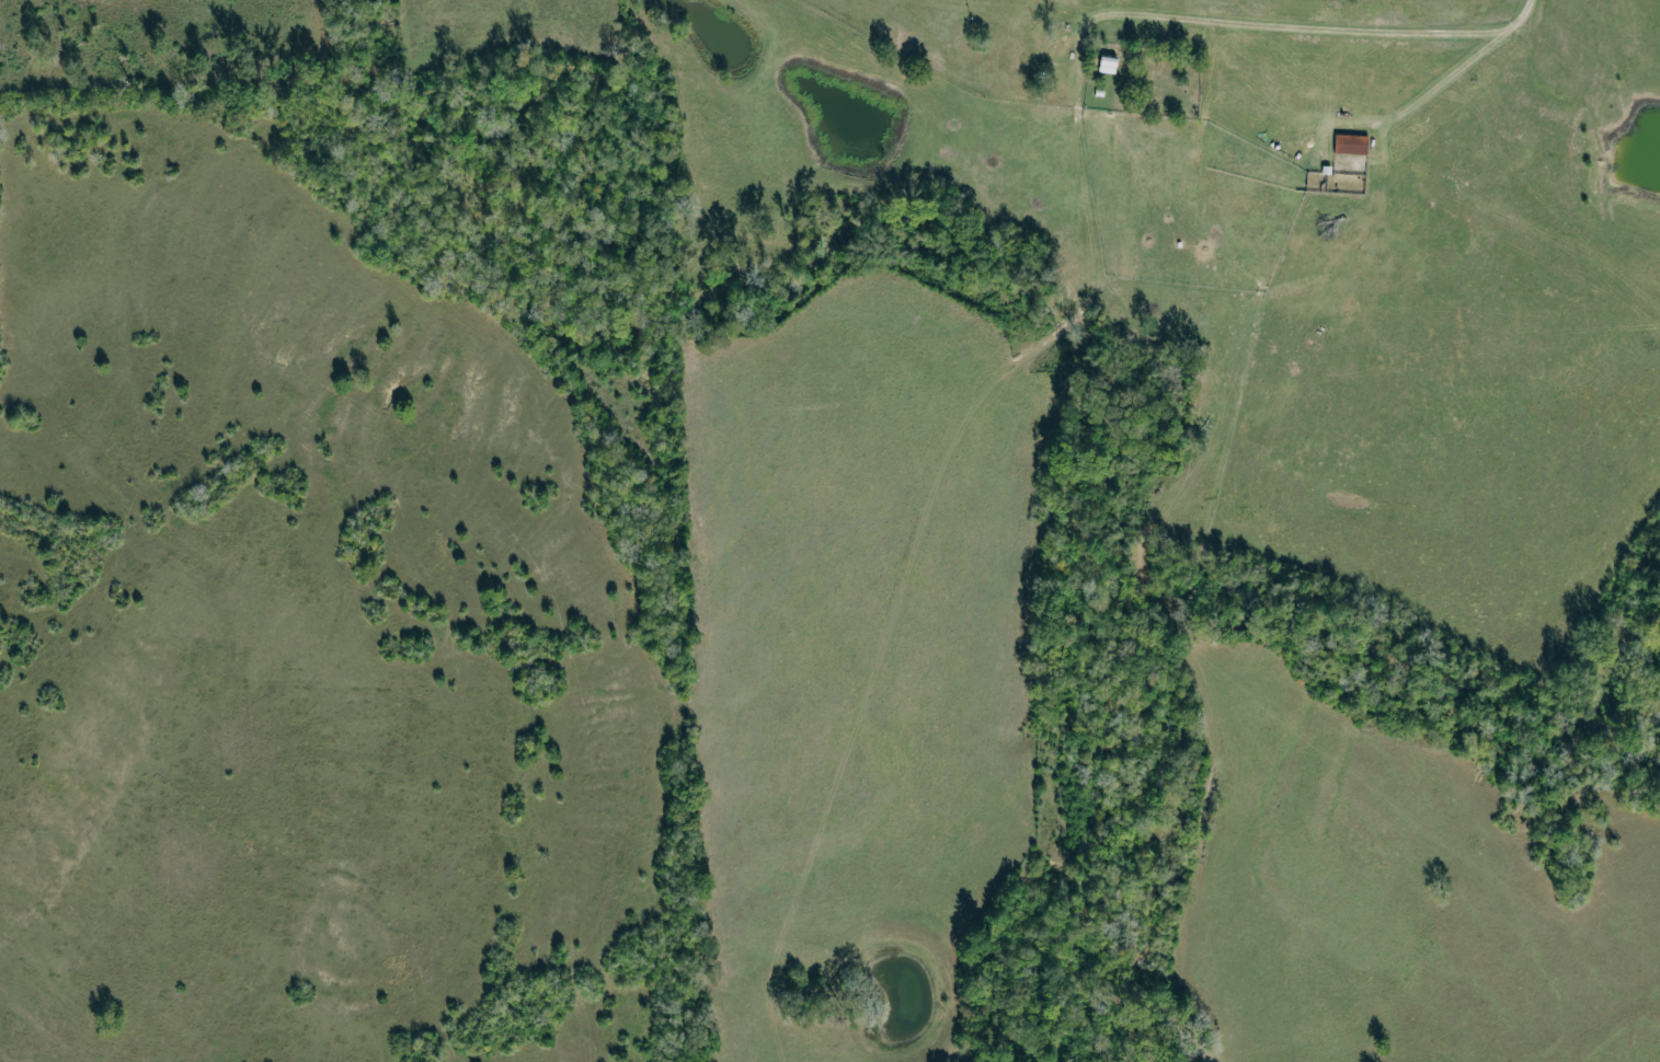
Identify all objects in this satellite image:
building: (1110, 65)
building: (1353, 143)

